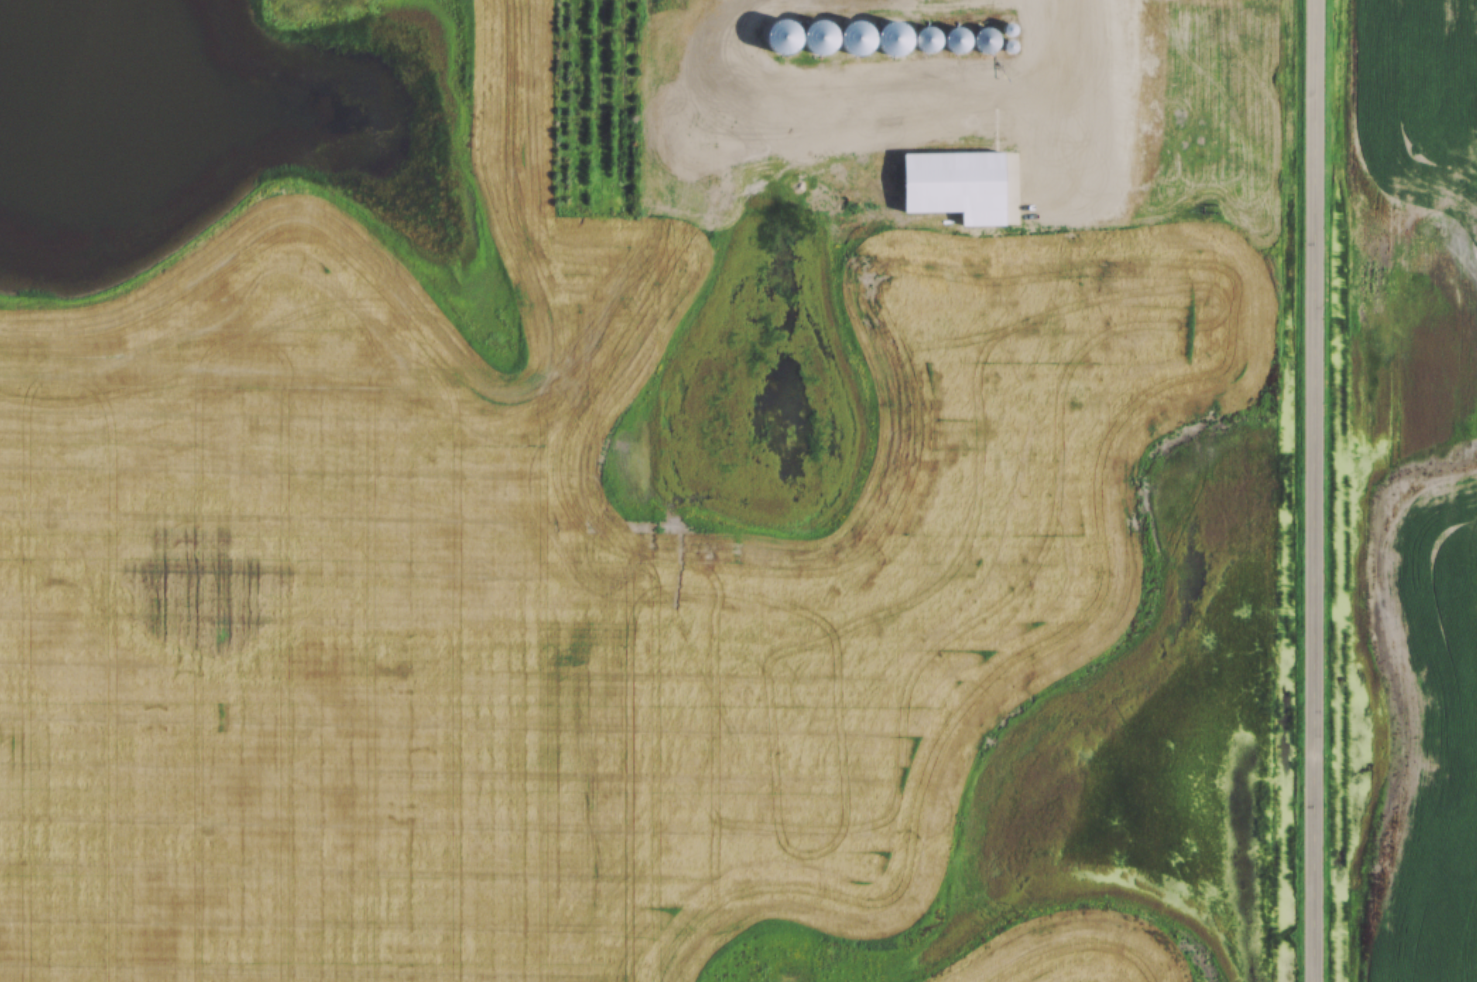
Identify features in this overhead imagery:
building: (853, 35)
building: (804, 38)
building: (926, 39)
building: (958, 39)
building: (975, 162)
building: (911, 203)
road: (1318, 490)

